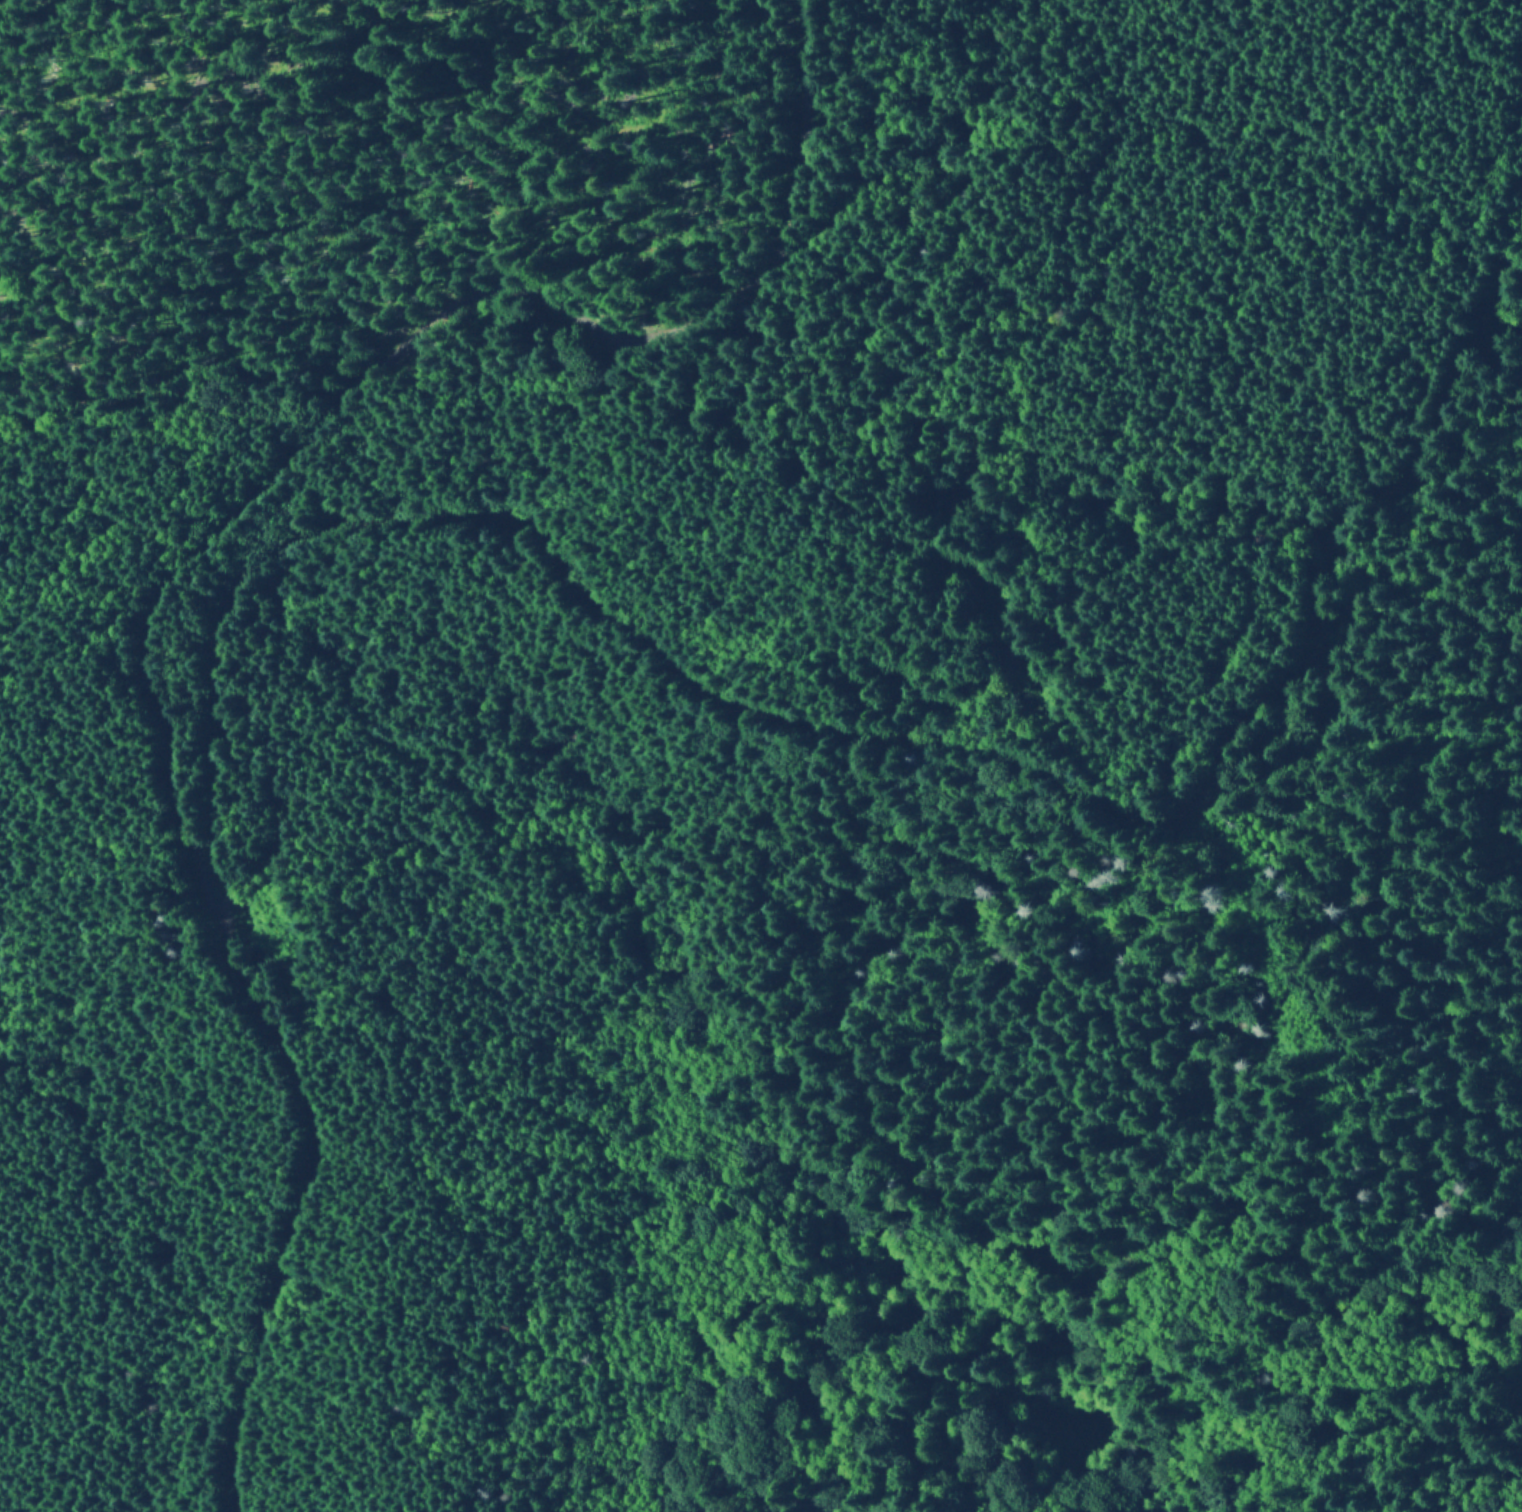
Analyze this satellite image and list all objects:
road: (249, 587)
road: (177, 589)
road: (1120, 1490)

